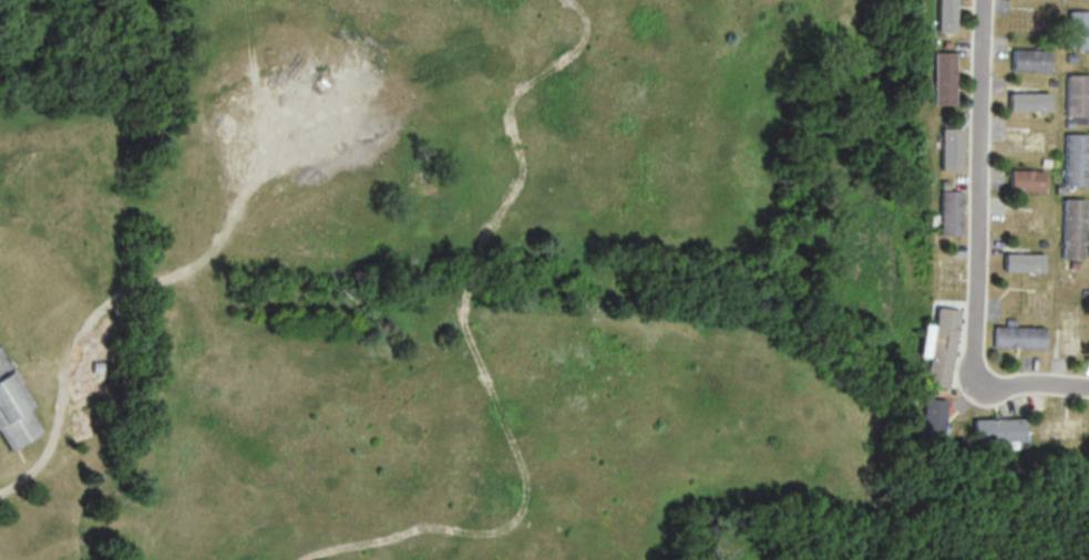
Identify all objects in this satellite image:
building: (942, 15)
building: (1077, 29)
building: (942, 42)
building: (1070, 56)
building: (1028, 59)
building: (939, 76)
building: (1051, 81)
building: (1076, 94)
building: (1027, 101)
building: (1069, 122)
building: (946, 147)
building: (1073, 158)
building: (1045, 162)
building: (1025, 179)
building: (939, 184)
building: (1059, 188)
building: (945, 211)
building: (1073, 228)
building: (1042, 242)
road: (973, 246)
building: (1021, 261)
building: (1075, 263)
building: (1086, 292)
building: (1009, 320)
building: (1019, 335)
building: (938, 346)
building: (13, 409)
building: (929, 418)
building: (999, 428)
road: (20, 475)

